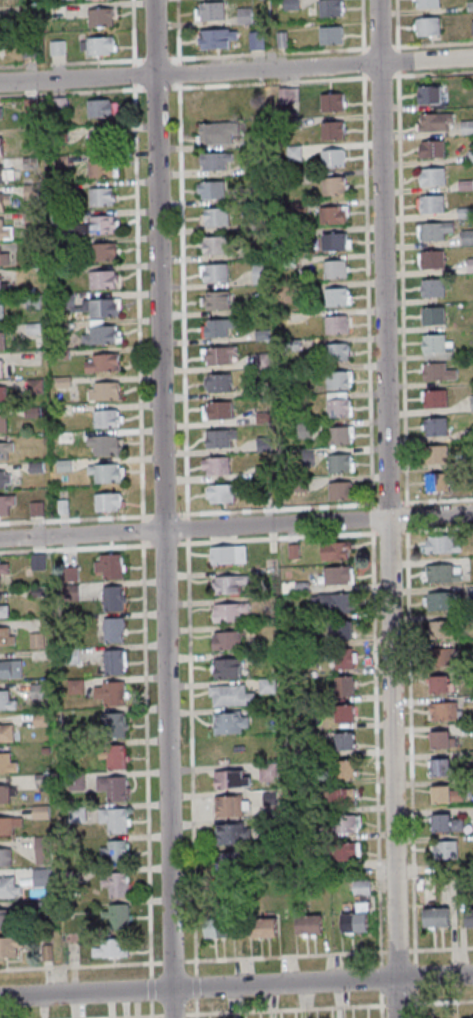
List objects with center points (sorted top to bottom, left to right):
building: (424, 3)
building: (289, 5)
building: (468, 6)
building: (328, 7)
building: (207, 10)
building: (25, 12)
building: (242, 15)
building: (98, 16)
building: (0, 22)
building: (425, 26)
building: (471, 27)
building: (328, 34)
building: (214, 37)
building: (280, 39)
building: (254, 40)
building: (96, 45)
building: (55, 47)
road: (410, 47)
building: (27, 49)
road: (262, 54)
road: (96, 62)
road: (236, 70)
building: (286, 94)
building: (427, 94)
building: (330, 102)
building: (57, 105)
building: (213, 105)
building: (28, 106)
building: (97, 107)
building: (0, 110)
building: (433, 122)
building: (291, 123)
building: (465, 127)
building: (330, 129)
building: (214, 132)
building: (57, 135)
building: (257, 139)
building: (99, 140)
building: (0, 148)
building: (429, 148)
building: (292, 153)
building: (469, 156)
building: (330, 158)
building: (212, 159)
building: (58, 161)
building: (28, 163)
building: (251, 166)
building: (98, 167)
building: (5, 174)
building: (430, 176)
building: (331, 185)
building: (463, 185)
building: (59, 187)
building: (209, 189)
building: (29, 191)
building: (256, 194)
building: (99, 196)
building: (3, 200)
building: (429, 203)
building: (296, 207)
building: (463, 213)
building: (329, 215)
building: (213, 216)
building: (58, 217)
building: (29, 219)
building: (93, 224)
building: (256, 224)
building: (433, 230)
building: (3, 231)
building: (286, 236)
building: (465, 237)
building: (332, 240)
building: (58, 243)
building: (212, 244)
building: (102, 250)
building: (3, 259)
building: (430, 259)
building: (287, 262)
building: (468, 265)
building: (333, 268)
building: (59, 270)
building: (212, 272)
building: (257, 273)
building: (100, 278)
road: (400, 285)
building: (3, 287)
building: (430, 287)
building: (299, 288)
building: (334, 296)
building: (215, 300)
building: (31, 302)
building: (89, 305)
building: (260, 305)
road: (136, 307)
building: (1, 312)
building: (430, 315)
building: (334, 324)
building: (31, 327)
building: (61, 327)
building: (216, 327)
building: (98, 334)
building: (260, 335)
building: (1, 340)
building: (290, 344)
building: (433, 347)
building: (335, 351)
building: (60, 354)
building: (217, 355)
building: (260, 361)
building: (101, 362)
building: (0, 371)
building: (435, 372)
building: (335, 379)
building: (61, 381)
building: (216, 382)
building: (33, 386)
building: (102, 391)
building: (5, 397)
building: (433, 398)
building: (470, 403)
building: (335, 407)
building: (217, 409)
building: (30, 412)
building: (103, 417)
building: (261, 418)
building: (2, 423)
building: (434, 426)
building: (302, 430)
building: (336, 434)
building: (468, 434)
building: (63, 437)
building: (217, 437)
building: (262, 444)
building: (102, 445)
building: (4, 449)
building: (434, 453)
building: (306, 458)
building: (469, 461)
building: (337, 462)
building: (214, 464)
building: (62, 465)
building: (34, 467)
building: (261, 471)
building: (104, 472)
building: (3, 478)
building: (435, 482)
building: (296, 484)
building: (337, 490)
building: (219, 493)
building: (105, 501)
building: (5, 503)
building: (60, 506)
building: (34, 508)
road: (163, 508)
road: (387, 508)
road: (183, 514)
road: (236, 527)
building: (440, 544)
building: (333, 550)
building: (291, 551)
building: (226, 554)
building: (35, 561)
building: (108, 565)
building: (3, 567)
building: (441, 573)
building: (67, 574)
building: (336, 575)
building: (225, 583)
building: (300, 586)
building: (36, 591)
building: (69, 592)
building: (110, 598)
building: (438, 600)
building: (331, 602)
building: (3, 610)
building: (226, 612)
building: (111, 629)
building: (341, 629)
building: (438, 629)
building: (5, 637)
building: (35, 640)
building: (224, 640)
building: (69, 656)
building: (438, 657)
building: (341, 658)
building: (112, 661)
building: (224, 667)
building: (9, 668)
building: (437, 684)
building: (265, 685)
building: (73, 686)
building: (342, 686)
building: (36, 691)
building: (108, 693)
building: (228, 695)
building: (6, 701)
building: (444, 711)
building: (342, 712)
building: (38, 719)
building: (226, 722)
building: (111, 724)
building: (5, 732)
building: (437, 738)
building: (343, 740)
building: (43, 750)
building: (229, 751)
building: (113, 756)
building: (470, 758)
building: (6, 763)
building: (438, 767)
building: (343, 768)
building: (267, 772)
building: (40, 779)
building: (228, 779)
building: (74, 782)
building: (471, 785)
building: (111, 787)
building: (6, 793)
building: (443, 794)
building: (338, 797)
building: (268, 798)
building: (227, 806)
building: (38, 811)
building: (75, 814)
building: (112, 819)
building: (342, 823)
building: (444, 823)
building: (8, 824)
building: (229, 833)
building: (443, 849)
building: (41, 850)
building: (340, 850)
building: (114, 852)
building: (4, 857)
building: (297, 859)
building: (229, 860)
building: (266, 864)
building: (70, 876)
building: (40, 877)
building: (115, 884)
building: (418, 886)
building: (8, 887)
building: (41, 908)
building: (356, 908)
building: (116, 915)
building: (2, 917)
building: (434, 917)
building: (468, 917)
building: (307, 924)
building: (214, 927)
building: (260, 927)
building: (9, 945)
building: (109, 947)
building: (44, 953)
road: (236, 986)
building: (467, 1017)
building: (471, 1017)

